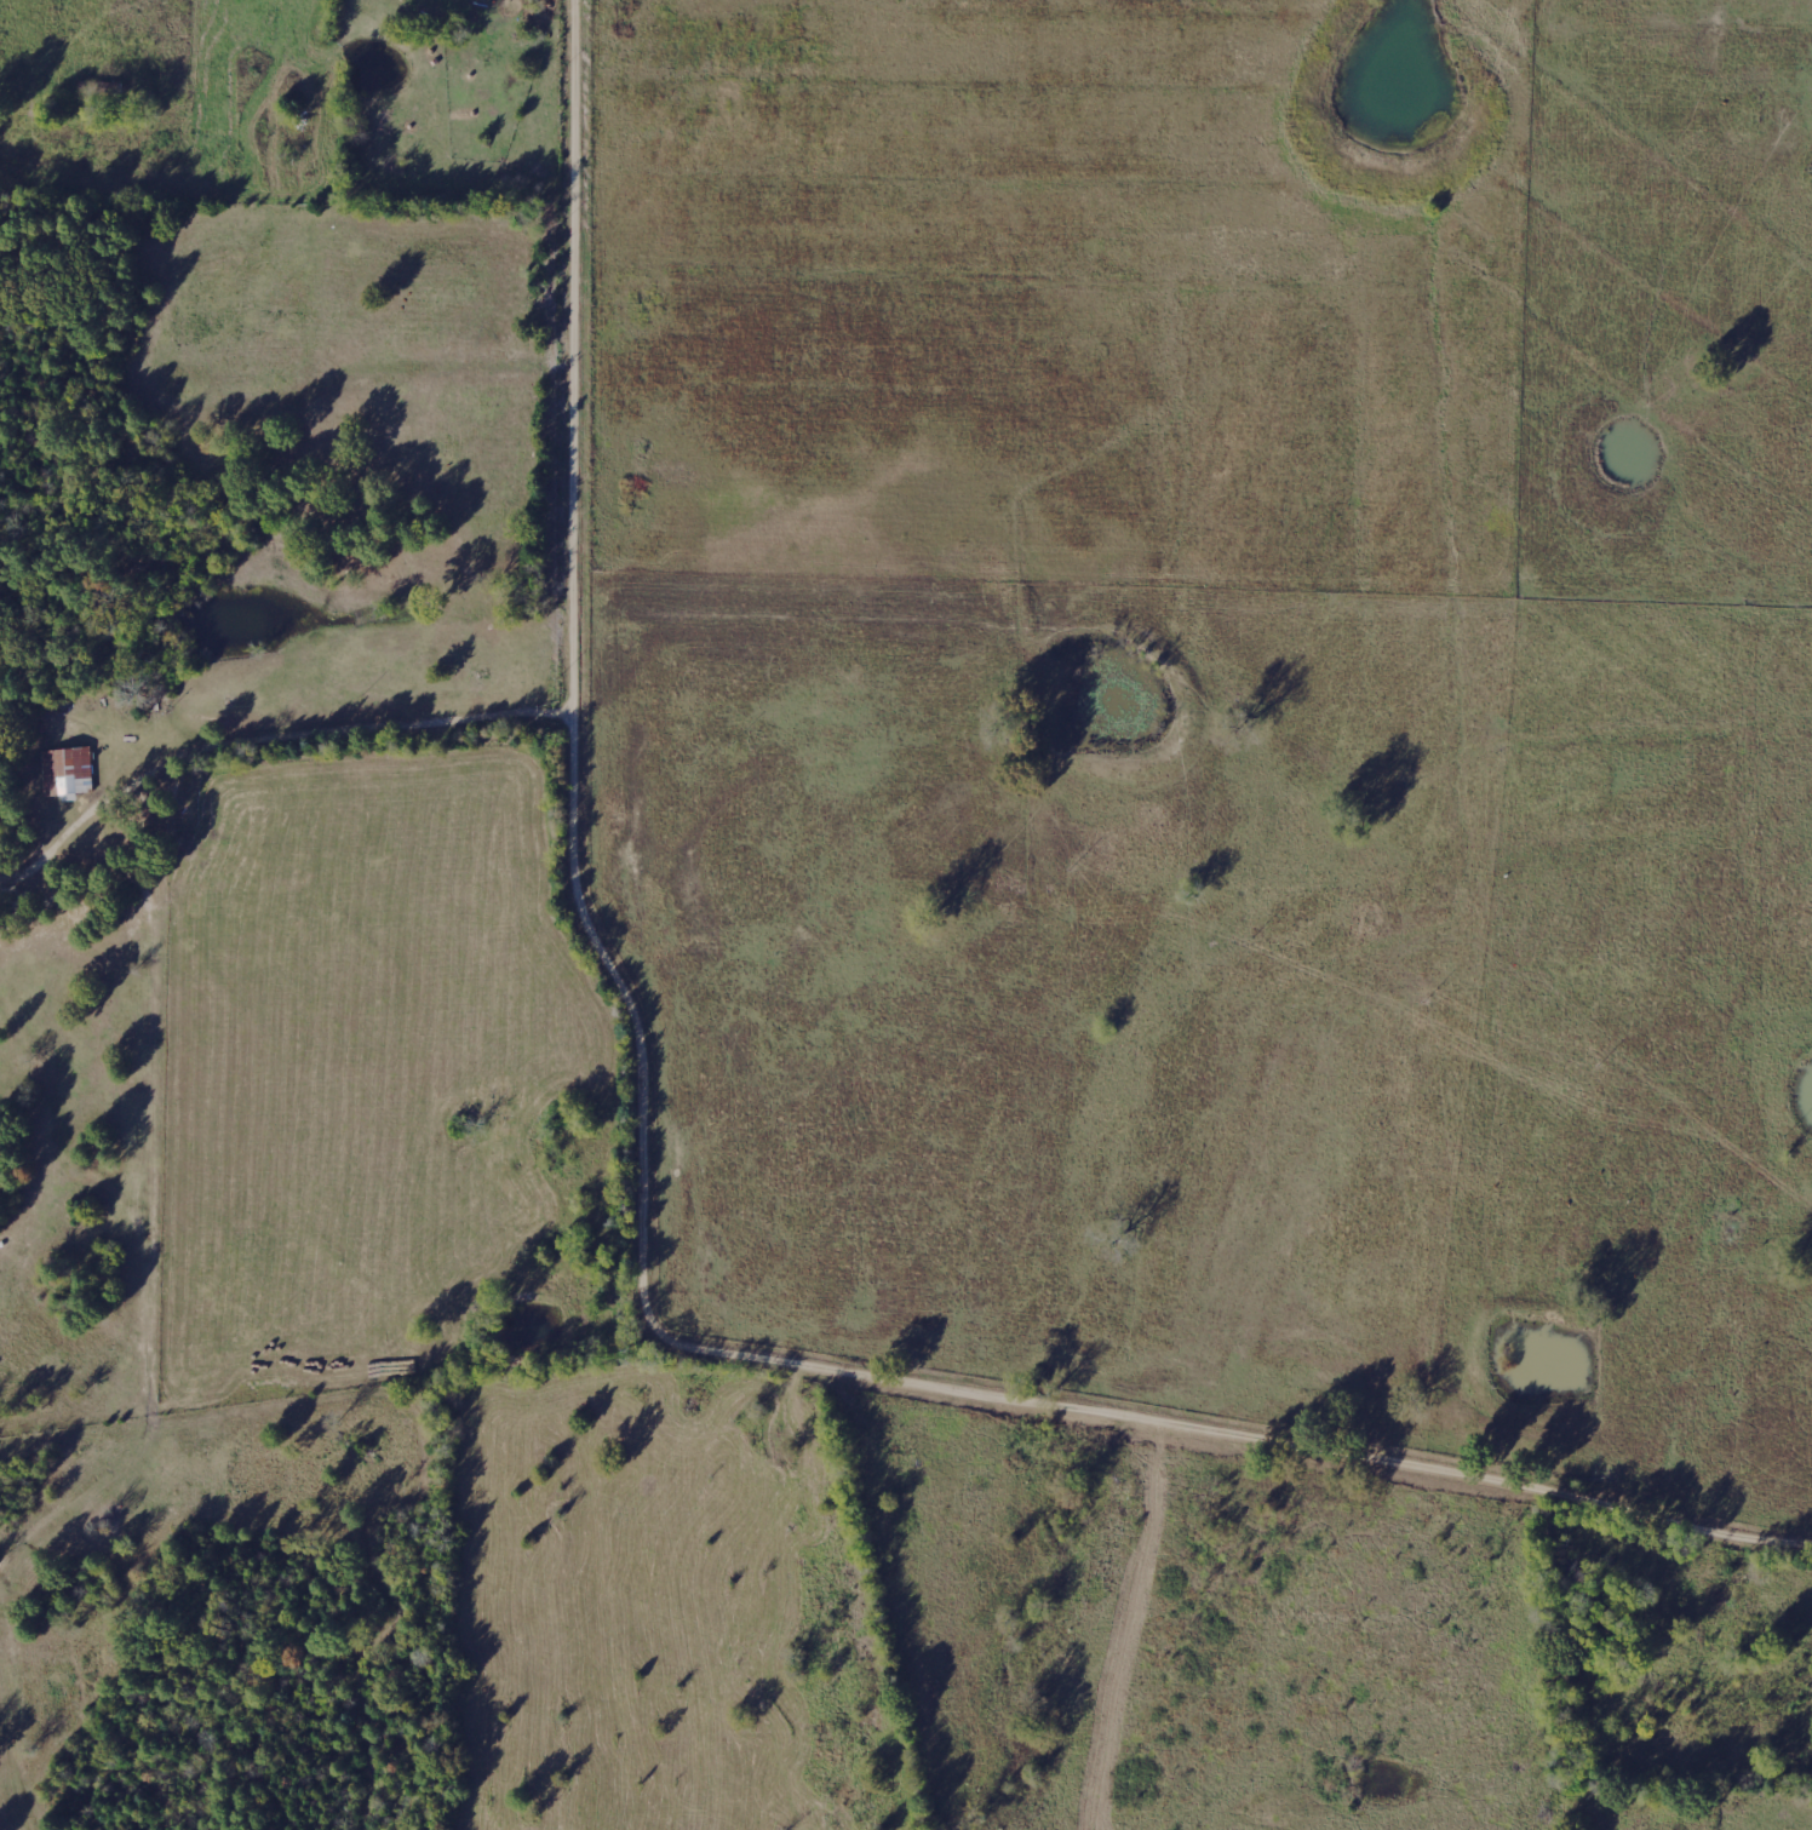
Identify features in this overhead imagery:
building: (68, 773)
road: (608, 946)
road: (1506, 1480)

